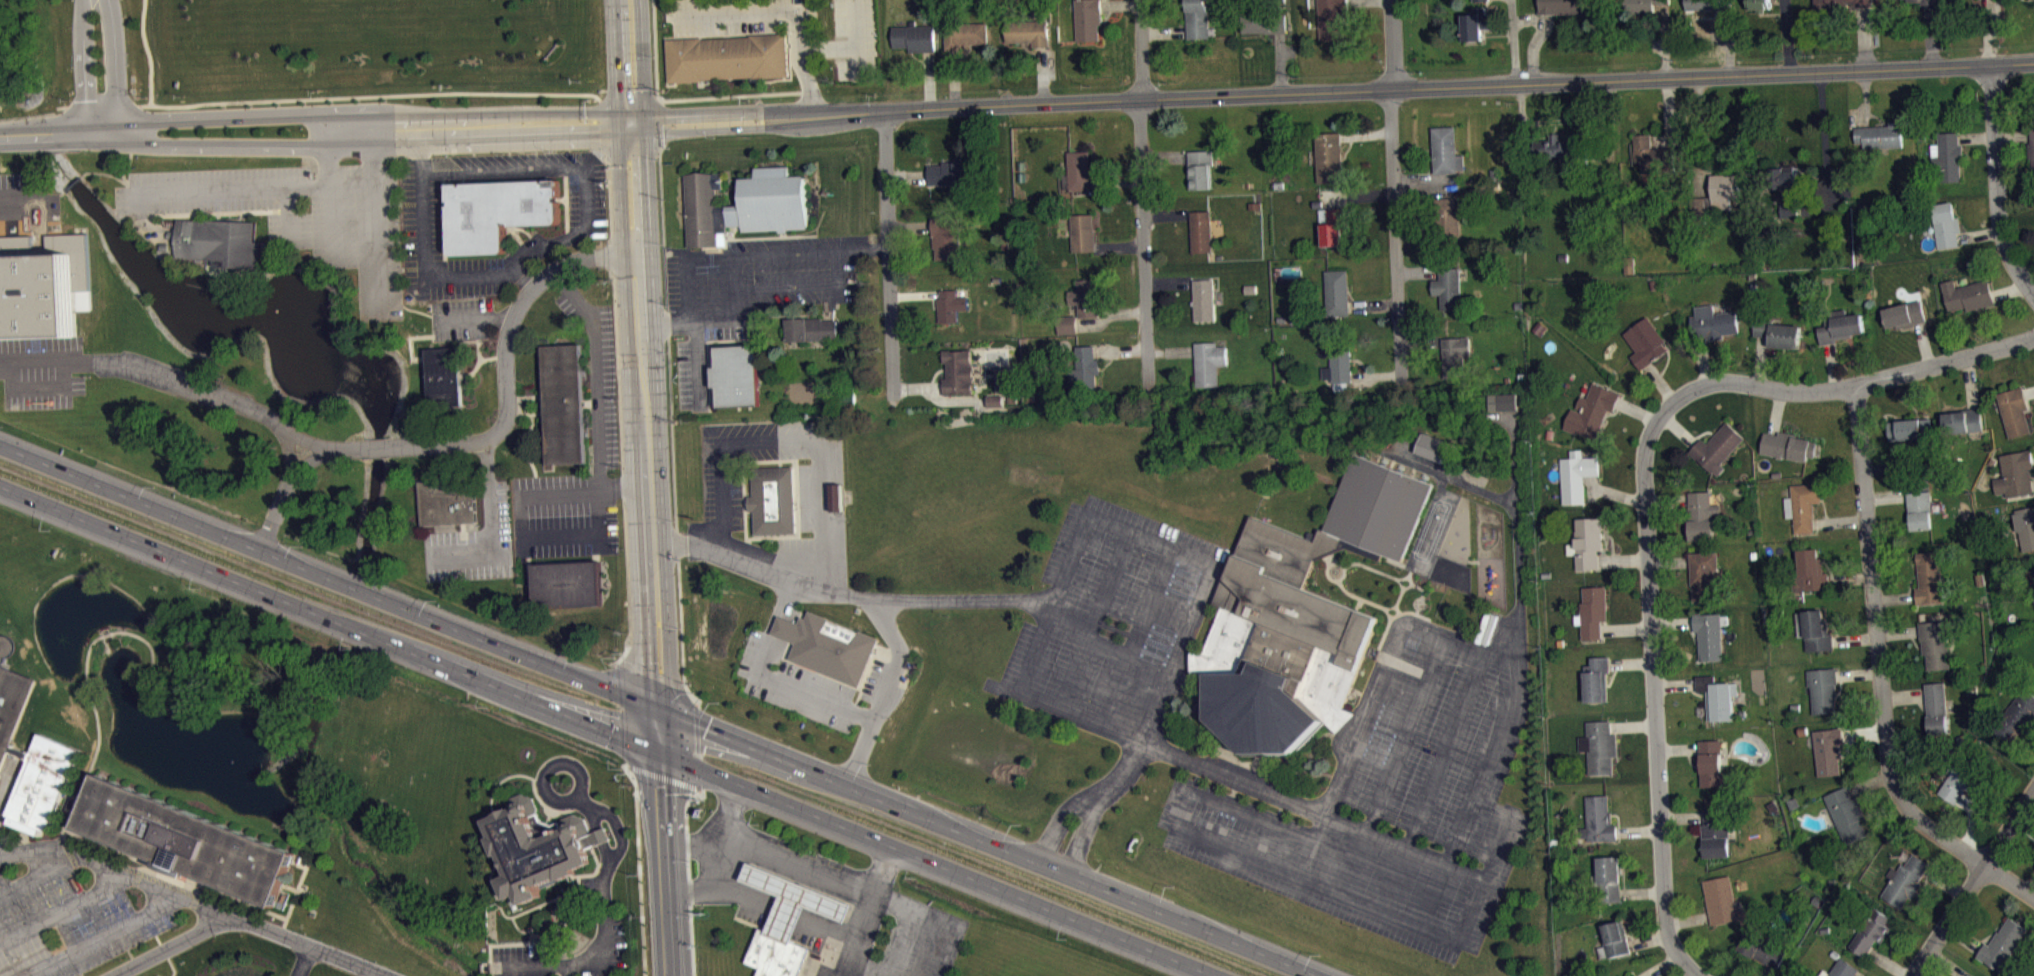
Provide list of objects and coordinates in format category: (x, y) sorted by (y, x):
building: (1475, 0)
building: (1980, 0)
building: (2018, 0)
building: (1927, 2)
building: (1840, 3)
building: (1705, 4)
building: (1758, 4)
building: (1564, 6)
building: (1641, 6)
road: (787, 9)
building: (1263, 18)
building: (1332, 18)
building: (1087, 19)
building: (1197, 19)
parking lot: (751, 20)
building: (1477, 22)
building: (1029, 32)
building: (965, 34)
building: (914, 37)
parking lot: (855, 39)
road: (1392, 45)
road: (852, 48)
road: (1140, 49)
building: (727, 57)
road: (857, 63)
road: (113, 64)
road: (83, 66)
road: (351, 96)
road: (684, 98)
road: (1017, 103)
traffic signals: (632, 123)
building: (1880, 136)
building: (1556, 147)
building: (2031, 148)
building: (1446, 150)
building: (1653, 156)
building: (1329, 157)
building: (1946, 157)
building: (1199, 169)
building: (1078, 171)
building: (953, 172)
road: (1994, 184)
road: (251, 187)
building: (1724, 190)
parking lot: (22, 193)
road: (328, 193)
building: (1795, 195)
road: (18, 201)
parking lot: (584, 203)
building: (743, 203)
building: (496, 210)
road: (287, 211)
parking lot: (298, 214)
building: (1447, 215)
road: (373, 216)
building: (1332, 225)
building: (1945, 225)
building: (1200, 231)
building: (1082, 233)
building: (947, 237)
parking lot: (435, 239)
road: (1396, 239)
building: (218, 240)
road: (537, 245)
road: (1146, 246)
road: (860, 247)
road: (780, 253)
road: (887, 253)
road: (519, 276)
parking lot: (756, 278)
building: (40, 282)
road: (798, 286)
building: (1448, 287)
road: (726, 288)
building: (1337, 292)
building: (1968, 294)
building: (1083, 297)
building: (1204, 300)
building: (950, 305)
road: (686, 312)
building: (1904, 314)
road: (472, 316)
parking lot: (458, 318)
road: (692, 320)
building: (1066, 324)
building: (1711, 324)
building: (1839, 325)
building: (811, 328)
building: (1777, 332)
building: (1646, 342)
road: (504, 351)
building: (1454, 356)
road: (65, 358)
building: (1208, 362)
building: (1083, 363)
building: (1339, 363)
road: (594, 369)
building: (958, 371)
parking lot: (690, 373)
building: (734, 374)
building: (442, 375)
road: (639, 375)
parking lot: (599, 384)
road: (1853, 385)
building: (1001, 387)
road: (220, 397)
building: (1500, 400)
road: (669, 401)
building: (560, 402)
building: (995, 406)
building: (1504, 407)
building: (1592, 411)
building: (2014, 411)
building: (1963, 420)
building: (1909, 428)
road: (789, 441)
building: (1429, 445)
building: (1787, 445)
road: (376, 446)
building: (1717, 446)
road: (293, 467)
building: (2015, 473)
building: (1576, 475)
road: (580, 488)
parking lot: (720, 489)
parking lot: (560, 494)
building: (771, 498)
building: (445, 500)
building: (1802, 505)
building: (1919, 509)
building: (1702, 515)
road: (1518, 522)
building: (2026, 527)
road: (557, 533)
parking lot: (562, 533)
road: (1148, 537)
parking lot: (472, 541)
building: (1587, 542)
road: (483, 557)
building: (1810, 570)
building: (1704, 575)
building: (2032, 575)
building: (1928, 577)
building: (564, 583)
building: (2033, 593)
road: (864, 594)
road: (1053, 602)
road: (1167, 609)
building: (1593, 611)
building: (1297, 615)
road: (1091, 617)
parking lot: (1112, 620)
building: (1814, 629)
road: (1133, 633)
building: (1710, 634)
road: (1106, 643)
building: (1935, 643)
building: (826, 644)
traffic signals: (648, 660)
road: (88, 664)
road: (769, 676)
road: (1880, 677)
building: (1597, 679)
parking lot: (792, 682)
road: (886, 688)
building: (1822, 689)
road: (1371, 692)
road: (1654, 692)
building: (1718, 697)
building: (11, 698)
building: (1935, 707)
road: (658, 714)
building: (2017, 716)
road: (1145, 723)
building: (1802, 729)
traffic signals: (705, 731)
road: (606, 733)
traffic signals: (610, 735)
road: (696, 744)
building: (1599, 746)
building: (1827, 750)
building: (1711, 762)
road: (1390, 764)
road: (664, 777)
road: (1242, 779)
road: (1429, 779)
building: (1961, 782)
road: (7, 783)
building: (42, 783)
traffic signals: (654, 789)
parking lot: (1393, 795)
road: (1469, 795)
building: (1847, 814)
building: (1599, 820)
building: (1715, 832)
road: (687, 835)
road: (722, 835)
building: (185, 840)
road: (687, 845)
building: (534, 846)
road: (613, 853)
road: (752, 854)
road: (762, 858)
road: (772, 862)
road: (656, 864)
road: (798, 864)
road: (780, 865)
road: (639, 866)
road: (163, 868)
road: (788, 868)
road: (121, 870)
road: (746, 870)
road: (797, 872)
road: (755, 874)
building: (173, 875)
road: (807, 876)
road: (1296, 876)
road: (302, 877)
road: (33, 878)
road: (169, 878)
road: (766, 878)
road: (816, 880)
building: (1606, 880)
building: (1905, 880)
road: (773, 882)
road: (741, 883)
road: (824, 883)
road: (719, 885)
road: (781, 885)
road: (832, 886)
road: (1970, 886)
road: (751, 887)
road: (841, 890)
road: (761, 891)
road: (790, 893)
road: (768, 894)
road: (853, 894)
road: (810, 896)
road: (799, 897)
road: (776, 898)
road: (817, 899)
building: (1720, 899)
road: (826, 903)
road: (869, 904)
road: (835, 907)
road: (789, 908)
road: (805, 909)
road: (288, 910)
road: (63, 911)
road: (846, 911)
road: (812, 912)
road: (821, 916)
road: (830, 920)
road: (246, 921)
building: (786, 921)
gas station: (786, 921)
parking lot: (66, 924)
road: (841, 924)
road: (829, 925)
road: (691, 931)
building: (1871, 932)
road: (103, 938)
building: (1614, 939)
parking lot: (605, 947)
building: (2004, 947)
road: (917, 948)
building: (1762, 949)
road: (300, 959)
parking lot: (520, 959)
building: (1843, 968)
road: (565, 970)
road: (370, 973)
building: (1629, 975)

